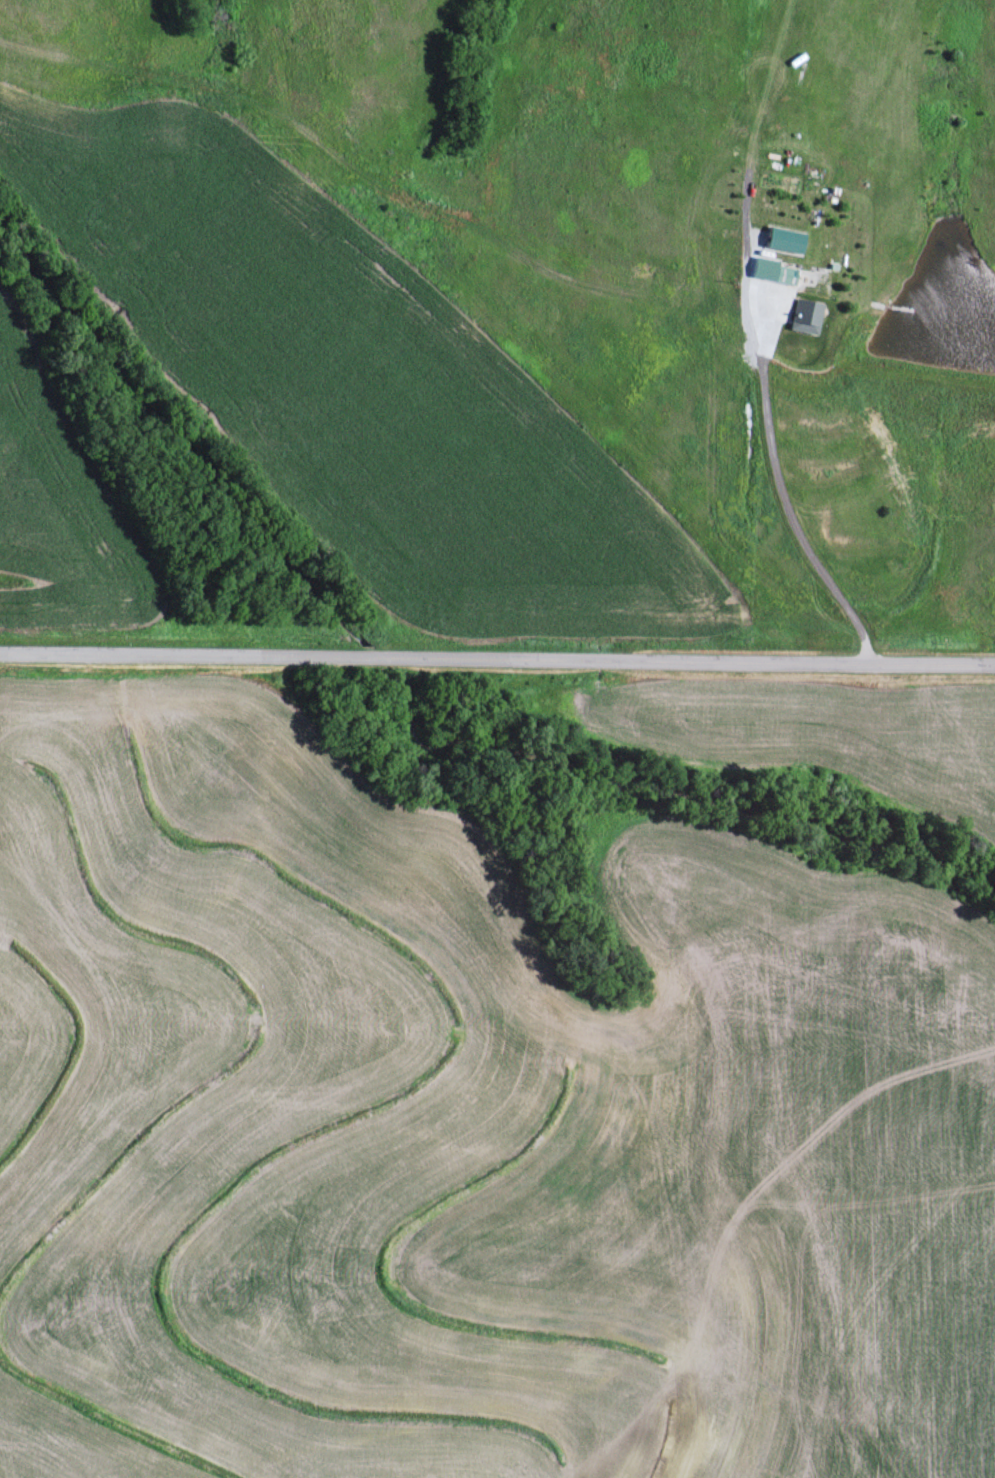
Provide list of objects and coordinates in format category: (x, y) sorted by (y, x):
road: (497, 677)

